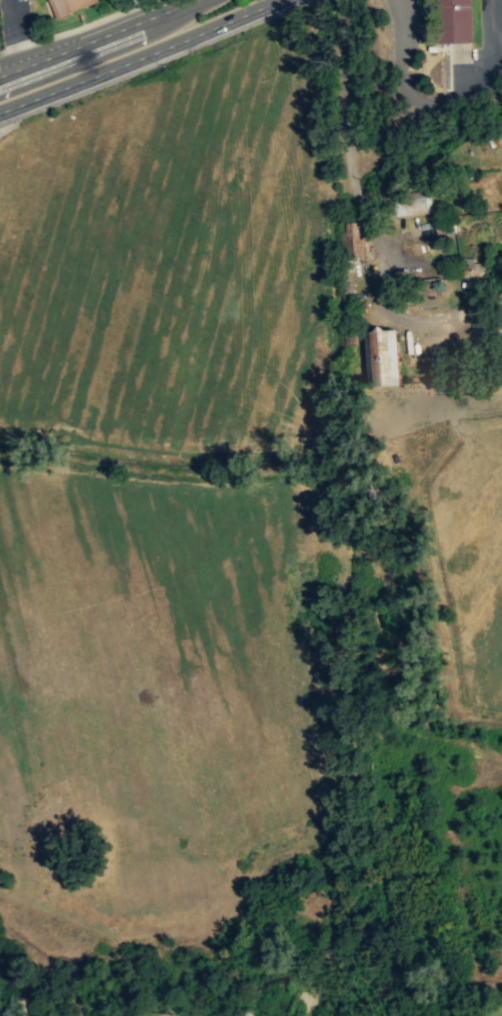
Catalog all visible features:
building: (69, 5)
building: (455, 21)
road: (16, 32)
road: (93, 36)
road: (137, 54)
road: (363, 162)
building: (413, 204)
building: (354, 236)
building: (472, 271)
building: (424, 286)
road: (454, 312)
building: (381, 357)
crop: (465, 539)
park: (487, 1005)

